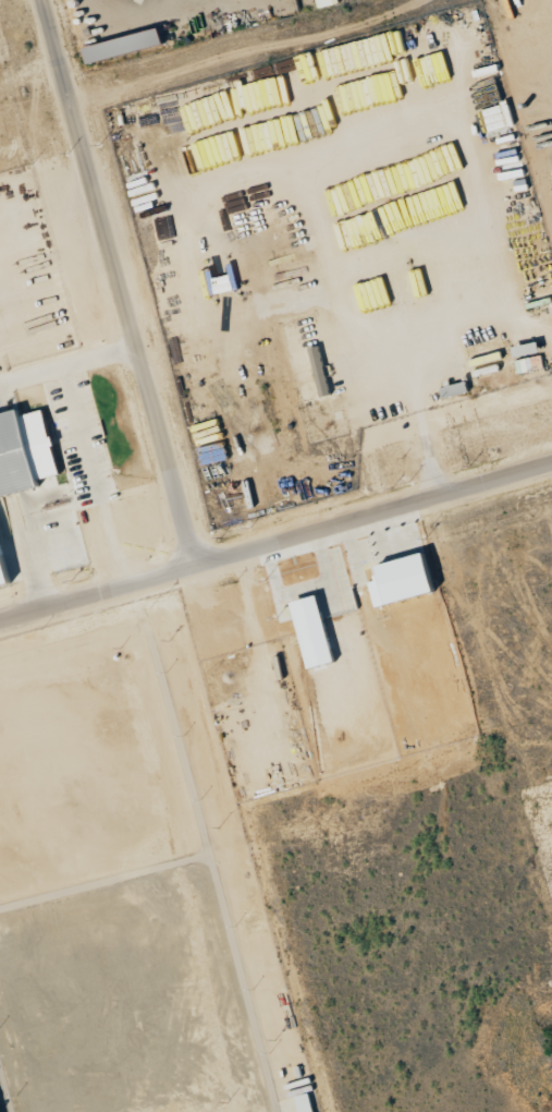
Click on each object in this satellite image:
building: (328, 3)
building: (125, 45)
building: (499, 116)
road: (119, 282)
building: (528, 356)
building: (320, 371)
building: (26, 452)
road: (275, 542)
building: (4, 567)
power plant: (130, 884)
building: (305, 1102)

